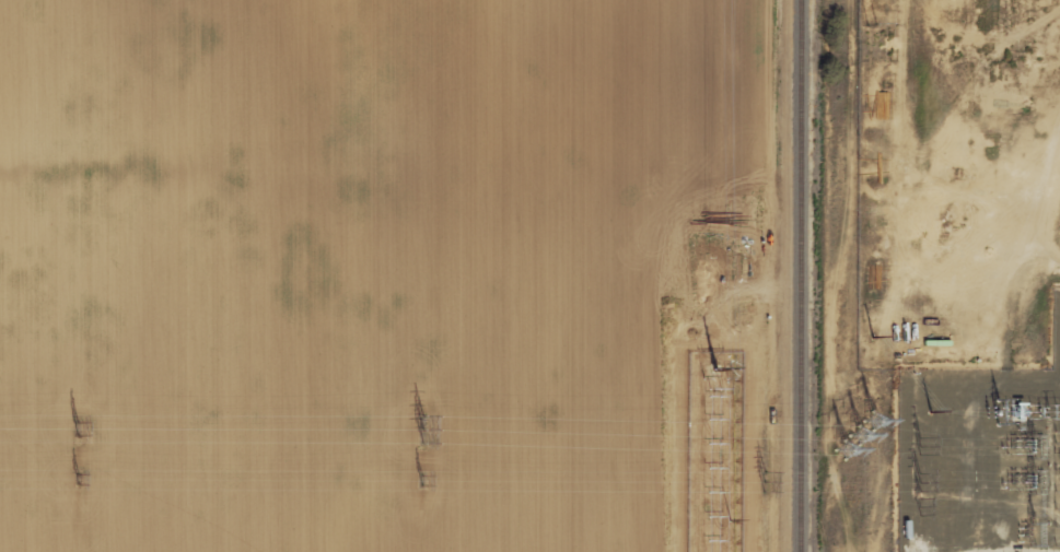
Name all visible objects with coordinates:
power tower: (873, 25)
road: (975, 252)
railway: (800, 275)
power tower: (873, 338)
power tower: (931, 413)
power tower: (423, 425)
power tower: (79, 426)
power tower: (859, 439)
power substation: (980, 459)
power tower: (423, 474)
power tower: (78, 478)
power tower: (766, 483)

